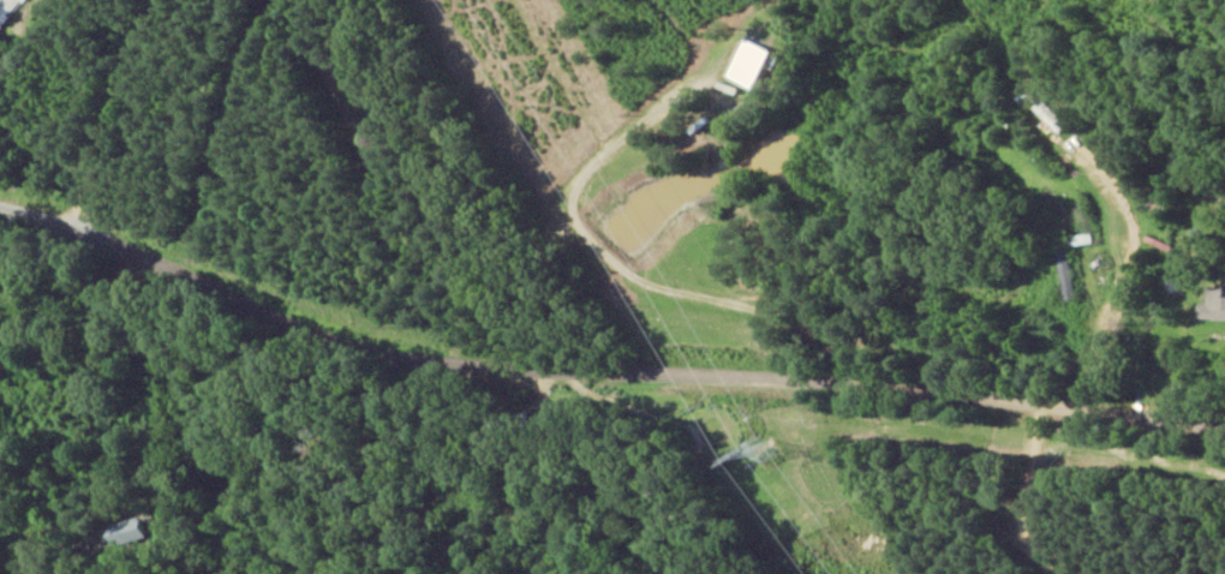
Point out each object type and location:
building: (10, 10)
building: (743, 64)
road: (35, 143)
road: (389, 204)
building: (1062, 271)
building: (1212, 305)
road: (600, 425)
power tower: (763, 447)
road: (737, 504)
building: (126, 533)

